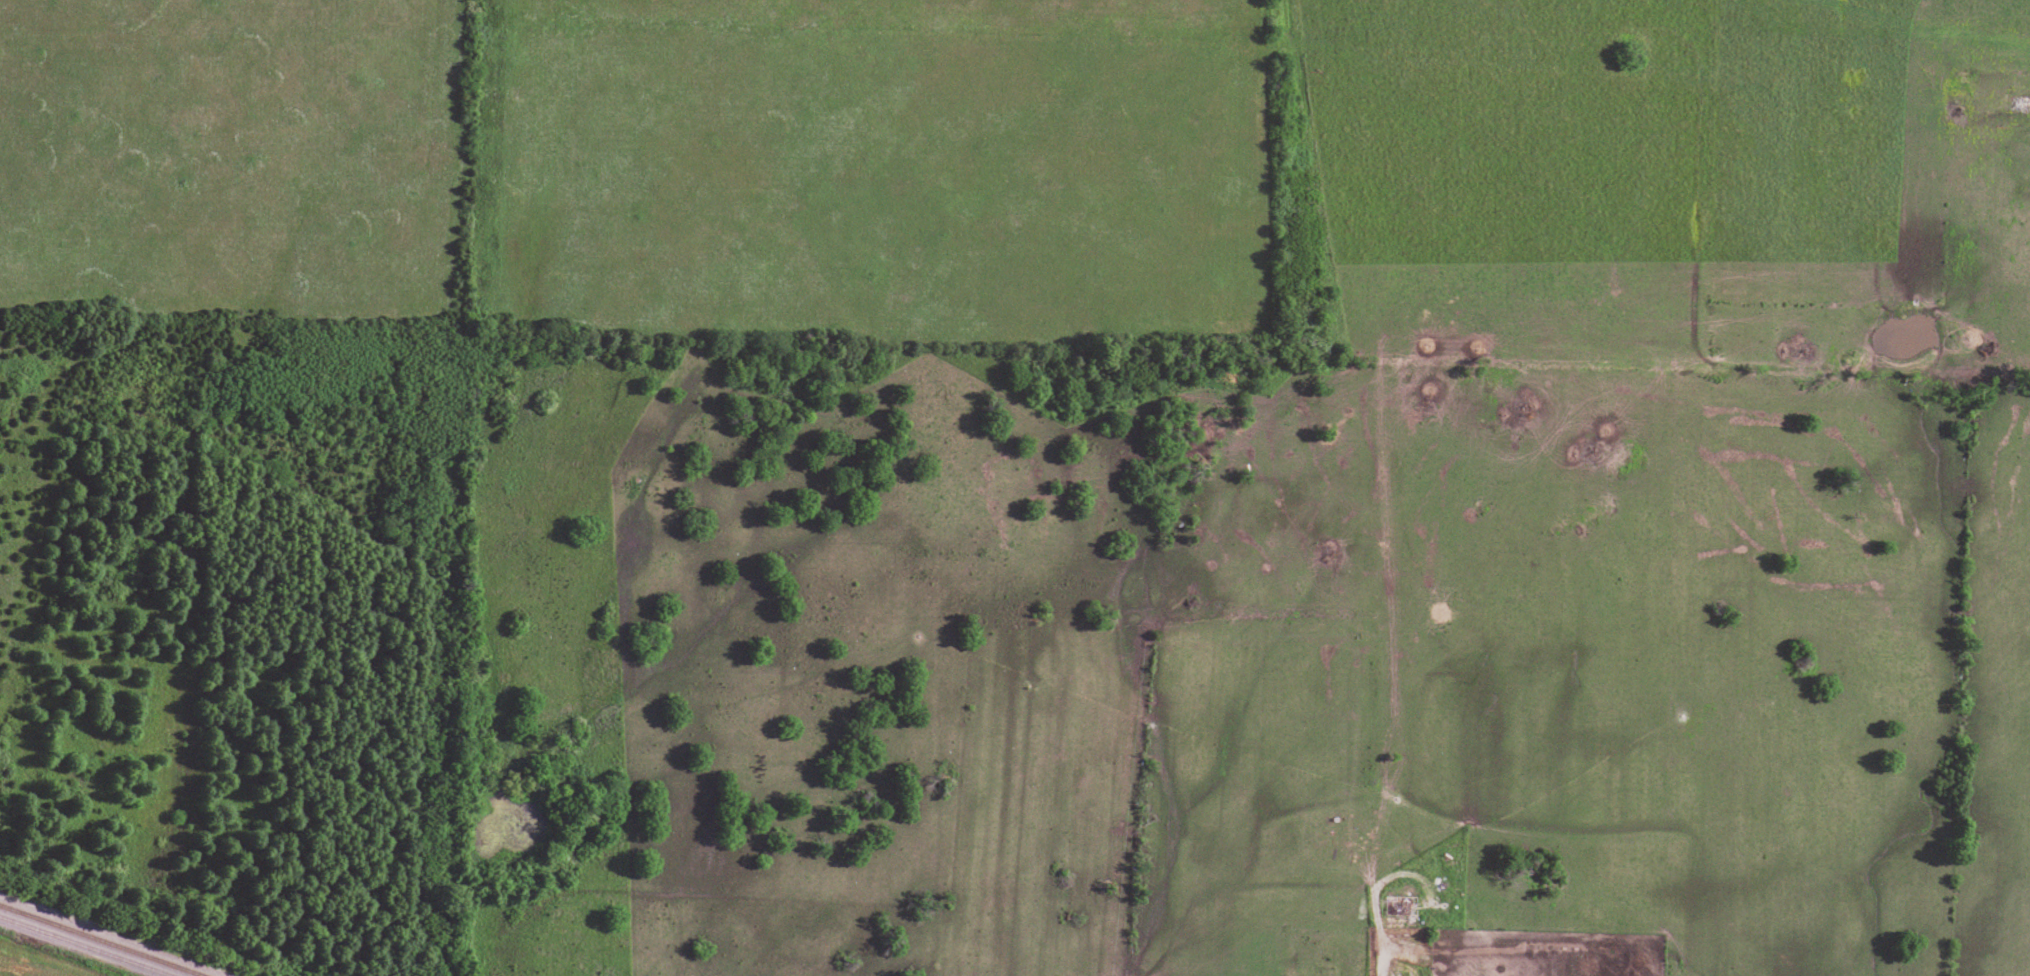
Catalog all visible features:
railway: (100, 940)
railway: (85, 946)

